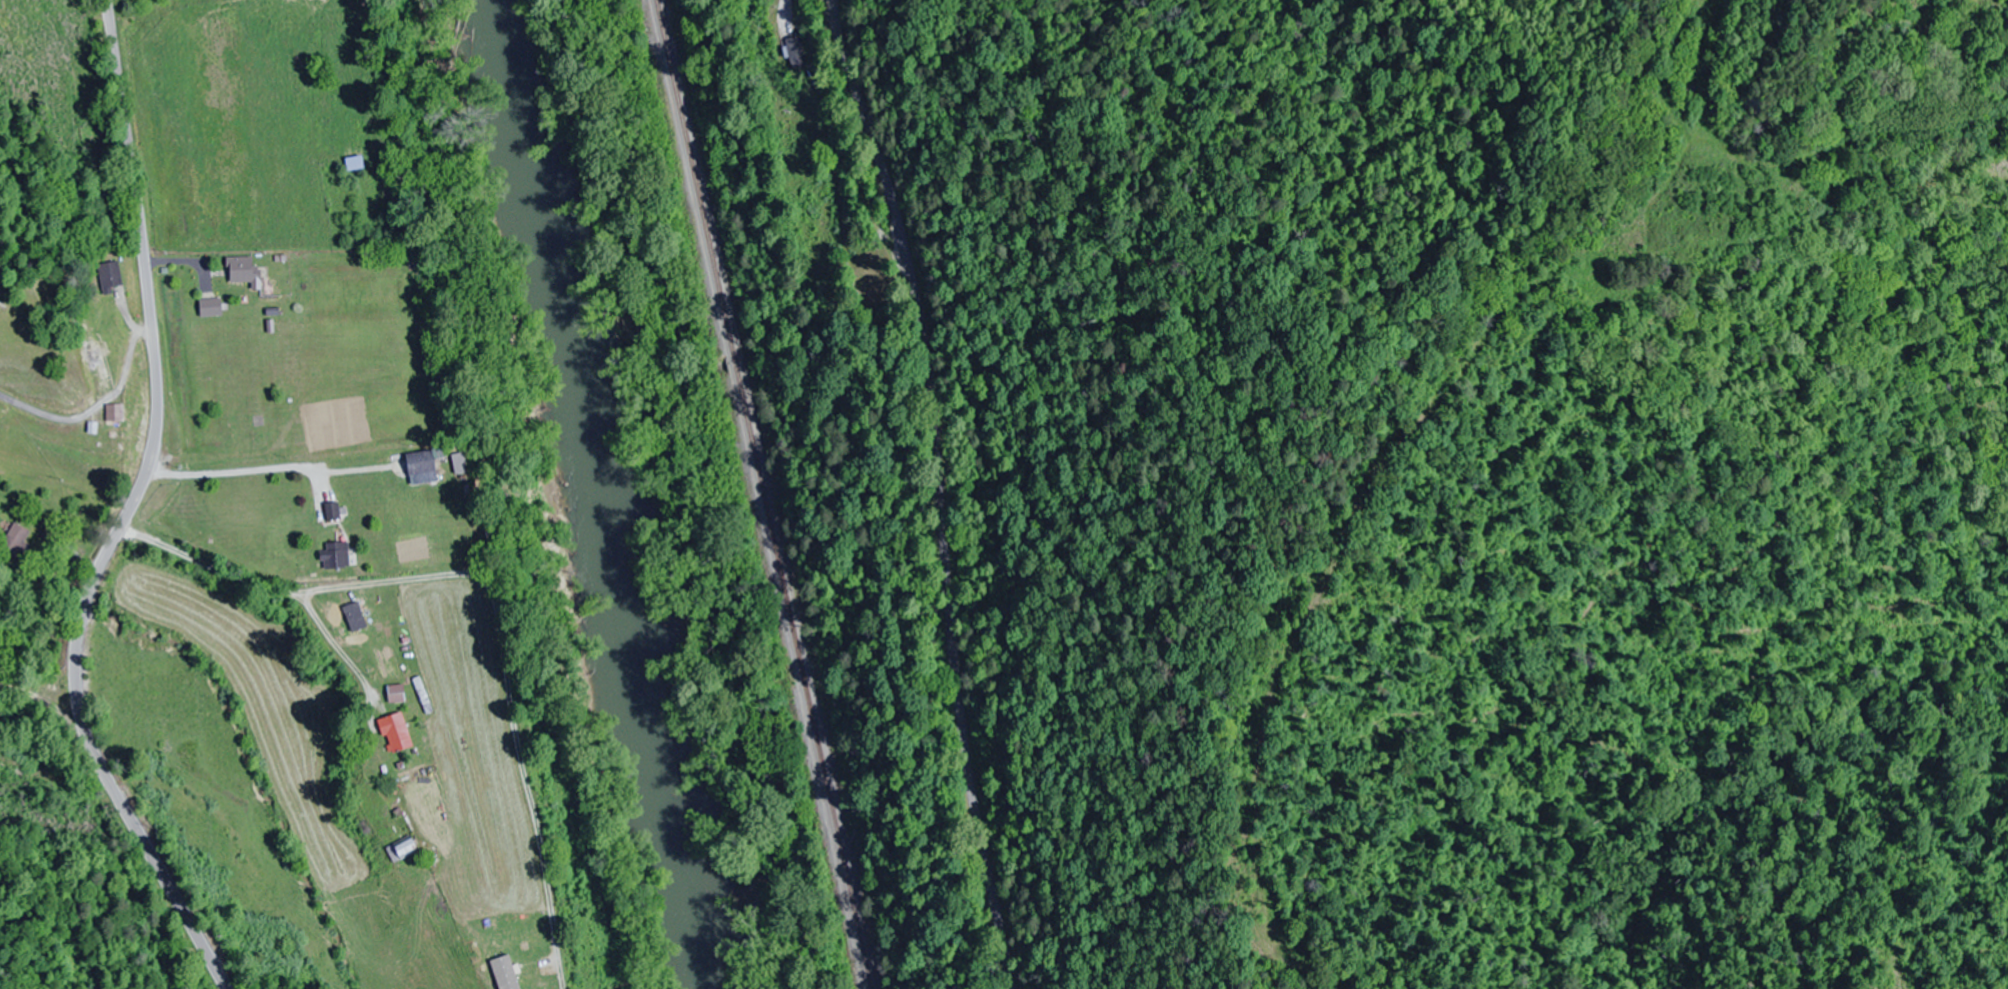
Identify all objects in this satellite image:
building: (797, 53)
building: (245, 272)
building: (111, 278)
building: (212, 309)
building: (99, 356)
building: (115, 413)
building: (422, 463)
road: (1715, 482)
road: (940, 491)
river: (597, 492)
railway: (764, 494)
building: (333, 511)
road: (128, 514)
building: (15, 545)
building: (336, 556)
building: (397, 694)
building: (397, 734)
building: (15, 763)
building: (404, 848)
building: (516, 980)

